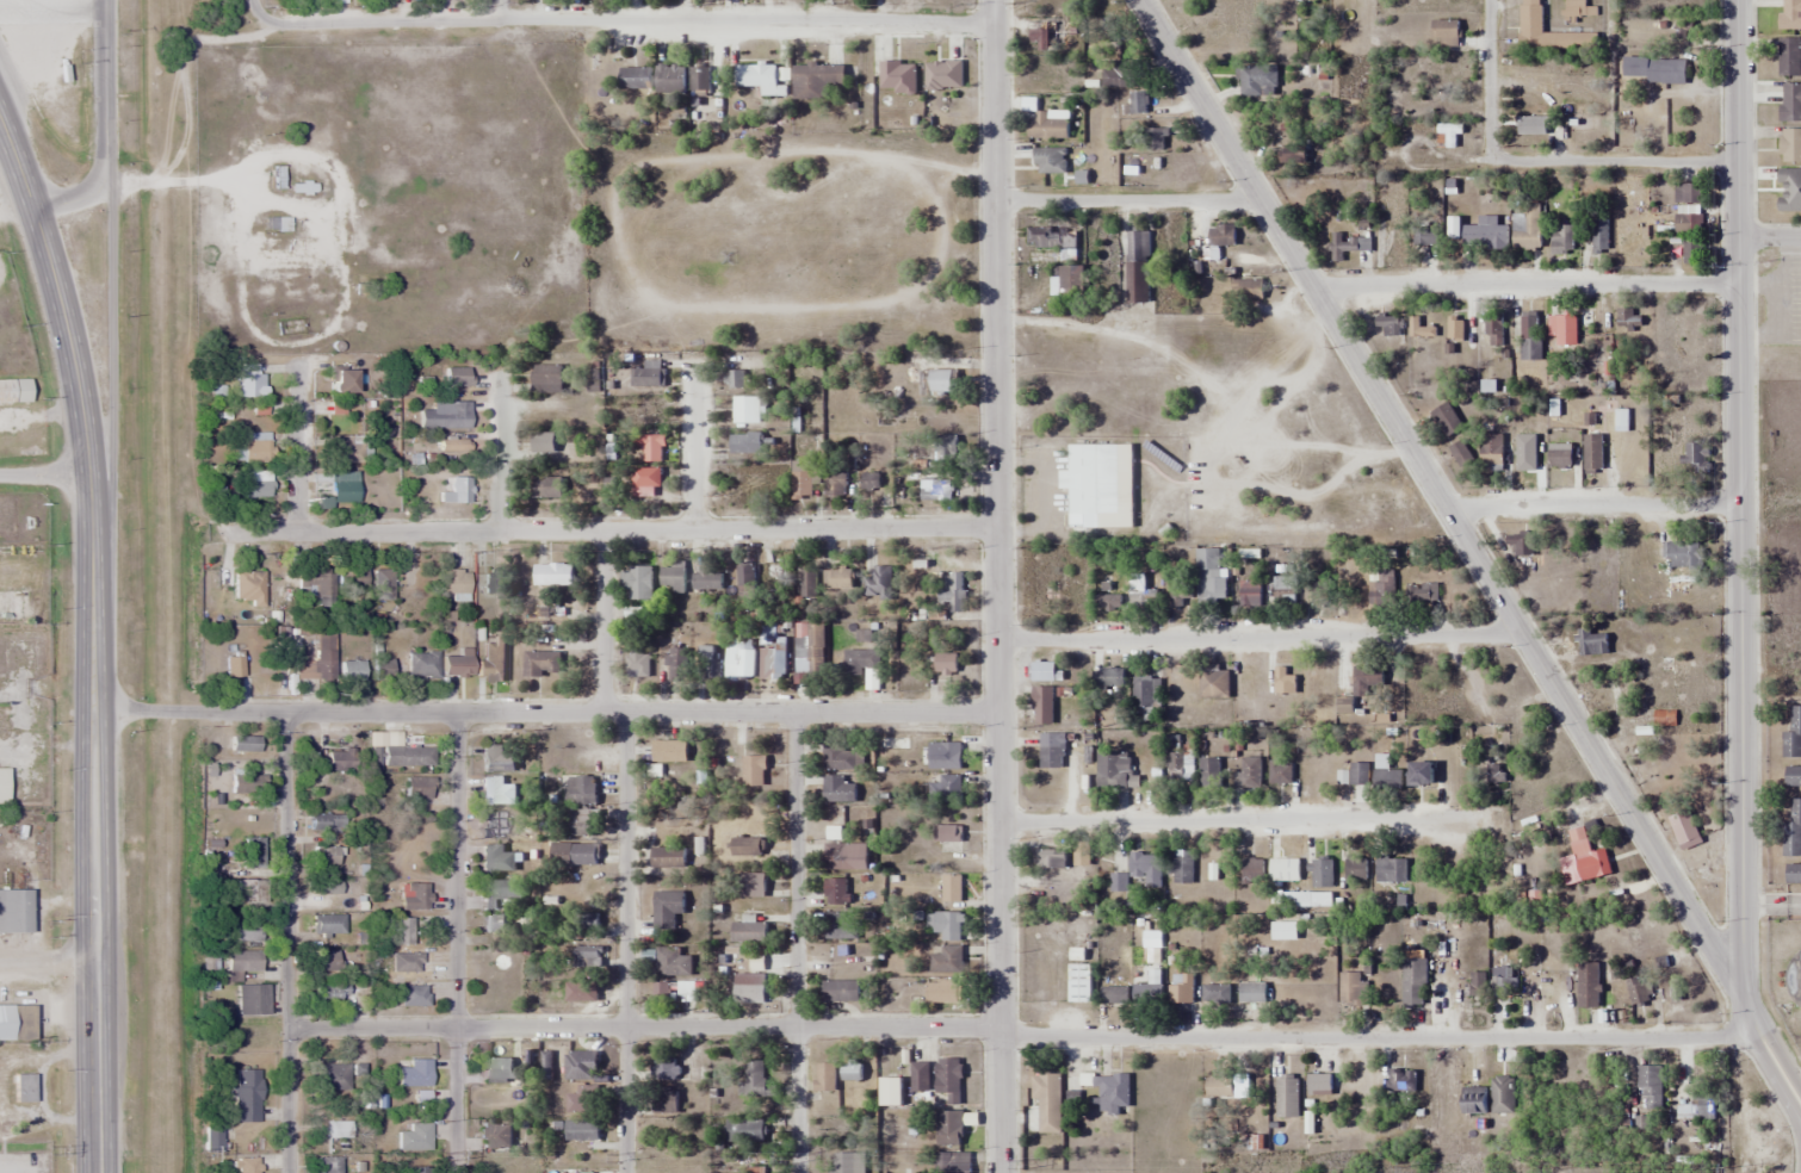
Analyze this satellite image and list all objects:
building: (1186, 0)
building: (1790, 14)
building: (1529, 15)
building: (35, 21)
road: (617, 24)
building: (1444, 31)
building: (1044, 36)
building: (1789, 57)
building: (1654, 69)
building: (1116, 74)
building: (942, 75)
building: (897, 76)
building: (635, 77)
building: (699, 77)
building: (757, 77)
building: (670, 79)
road: (1487, 79)
building: (1256, 80)
building: (815, 82)
building: (1790, 101)
building: (1137, 103)
building: (1578, 123)
building: (1042, 124)
building: (1530, 125)
road: (105, 126)
building: (1447, 134)
building: (1153, 139)
building: (1789, 145)
building: (1293, 154)
road: (1615, 161)
building: (301, 187)
building: (1790, 190)
building: (1686, 193)
road: (1126, 203)
building: (277, 223)
building: (1527, 228)
building: (1221, 235)
road: (1769, 235)
building: (1425, 236)
building: (1598, 236)
building: (1689, 236)
building: (1485, 237)
building: (1051, 238)
building: (1561, 243)
building: (1348, 246)
building: (1137, 267)
building: (1070, 280)
road: (1523, 286)
building: (1246, 290)
building: (1390, 325)
building: (1419, 328)
building: (1455, 329)
building: (1493, 329)
building: (1562, 329)
building: (1529, 336)
road: (110, 370)
building: (454, 376)
building: (646, 376)
building: (341, 379)
building: (546, 379)
building: (735, 379)
building: (250, 380)
building: (942, 381)
building: (1487, 389)
building: (13, 390)
building: (328, 406)
building: (745, 409)
building: (444, 417)
building: (1614, 418)
building: (1453, 436)
building: (543, 442)
building: (744, 443)
building: (454, 446)
building: (253, 447)
building: (649, 448)
road: (693, 448)
building: (945, 448)
building: (344, 449)
road: (299, 451)
building: (1491, 453)
building: (1592, 453)
road: (501, 454)
building: (1559, 457)
building: (1696, 457)
building: (804, 479)
building: (869, 482)
building: (646, 483)
building: (835, 483)
building: (259, 484)
building: (1094, 484)
building: (342, 489)
building: (547, 489)
building: (936, 489)
building: (457, 490)
building: (218, 494)
road: (1737, 496)
road: (1436, 497)
road: (1591, 508)
road: (611, 530)
building: (1521, 544)
building: (1683, 553)
building: (552, 573)
building: (837, 575)
building: (352, 576)
building: (805, 576)
building: (673, 578)
building: (706, 578)
building: (454, 581)
building: (744, 581)
building: (877, 581)
building: (317, 582)
building: (493, 582)
building: (383, 583)
building: (637, 583)
railway: (167, 586)
road: (997, 586)
building: (1109, 586)
building: (1380, 588)
building: (1215, 591)
building: (1283, 591)
building: (1421, 591)
building: (1141, 595)
building: (1182, 595)
building: (1249, 595)
building: (951, 596)
building: (1107, 601)
road: (601, 621)
road: (1257, 635)
road: (92, 639)
building: (1592, 643)
building: (807, 651)
building: (323, 656)
building: (776, 657)
building: (493, 659)
building: (739, 662)
building: (860, 662)
building: (707, 663)
building: (421, 664)
building: (541, 664)
building: (637, 664)
building: (945, 664)
building: (676, 665)
building: (234, 666)
building: (382, 669)
building: (352, 670)
building: (1042, 671)
building: (1110, 677)
building: (1367, 681)
building: (1283, 682)
building: (1213, 684)
building: (1143, 694)
building: (1042, 706)
road: (545, 712)
building: (1793, 734)
building: (245, 743)
building: (669, 751)
building: (1050, 751)
building: (407, 755)
building: (838, 756)
building: (497, 757)
building: (946, 757)
building: (340, 759)
building: (1657, 762)
building: (1177, 767)
building: (1112, 770)
building: (753, 771)
building: (1280, 772)
building: (1209, 774)
building: (1249, 774)
building: (1359, 774)
building: (1421, 774)
building: (1496, 774)
building: (1793, 776)
building: (1387, 778)
building: (1443, 778)
building: (247, 783)
building: (2, 786)
building: (419, 788)
building: (946, 789)
building: (580, 790)
building: (837, 790)
building: (497, 792)
road: (1228, 820)
building: (324, 821)
building: (581, 824)
building: (1791, 831)
building: (945, 834)
building: (1691, 848)
building: (747, 850)
building: (252, 851)
building: (574, 855)
building: (324, 856)
building: (667, 858)
building: (1048, 858)
building: (497, 859)
building: (838, 859)
building: (1583, 859)
building: (1144, 867)
building: (1181, 867)
building: (1252, 870)
building: (1283, 870)
building: (1391, 870)
building: (1355, 871)
building: (1320, 873)
building: (1793, 874)
building: (1119, 883)
building: (753, 885)
building: (326, 886)
building: (250, 888)
building: (952, 889)
building: (499, 893)
building: (834, 893)
building: (414, 896)
road: (1771, 905)
building: (666, 910)
building: (14, 911)
building: (328, 924)
building: (495, 924)
building: (586, 925)
building: (945, 925)
building: (840, 926)
building: (243, 931)
building: (402, 931)
building: (1283, 931)
building: (748, 933)
road: (285, 942)
road: (456, 942)
road: (624, 942)
road: (794, 942)
building: (587, 956)
building: (327, 960)
building: (243, 961)
building: (947, 961)
road: (48, 962)
building: (409, 962)
building: (671, 962)
building: (1413, 979)
building: (1500, 980)
building: (1079, 983)
building: (1478, 983)
building: (1588, 986)
building: (685, 988)
building: (1181, 988)
building: (1353, 988)
building: (840, 991)
building: (1638, 991)
building: (581, 992)
building: (330, 993)
building: (661, 993)
building: (749, 993)
building: (942, 993)
building: (1215, 993)
building: (1252, 993)
building: (1146, 994)
building: (413, 995)
building: (1113, 995)
building: (252, 999)
building: (16, 1020)
road: (642, 1025)
road: (1380, 1034)
road: (1770, 1045)
building: (580, 1065)
building: (497, 1067)
building: (663, 1067)
building: (850, 1070)
building: (414, 1072)
building: (333, 1075)
building: (825, 1076)
building: (948, 1079)
building: (755, 1080)
building: (1401, 1081)
building: (918, 1082)
building: (1319, 1082)
building: (1226, 1086)
building: (1046, 1090)
building: (1113, 1091)
building: (1650, 1092)
building: (246, 1093)
building: (1503, 1094)
building: (1287, 1096)
building: (421, 1097)
building: (663, 1098)
building: (582, 1099)
building: (1473, 1099)
building: (1697, 1107)
building: (915, 1125)
building: (948, 1128)
building: (581, 1129)
building: (744, 1130)
building: (495, 1135)
building: (414, 1136)
building: (212, 1138)
power tower: (51, 1149)
power tower: (204, 1156)
power tower: (446, 1156)
power tower: (786, 1160)
building: (328, 1162)
building: (847, 1162)
building: (952, 1162)
building: (246, 1163)
power tower: (1021, 1165)
building: (416, 1168)
power tower: (1727, 1171)
power tower: (1403, 1172)

